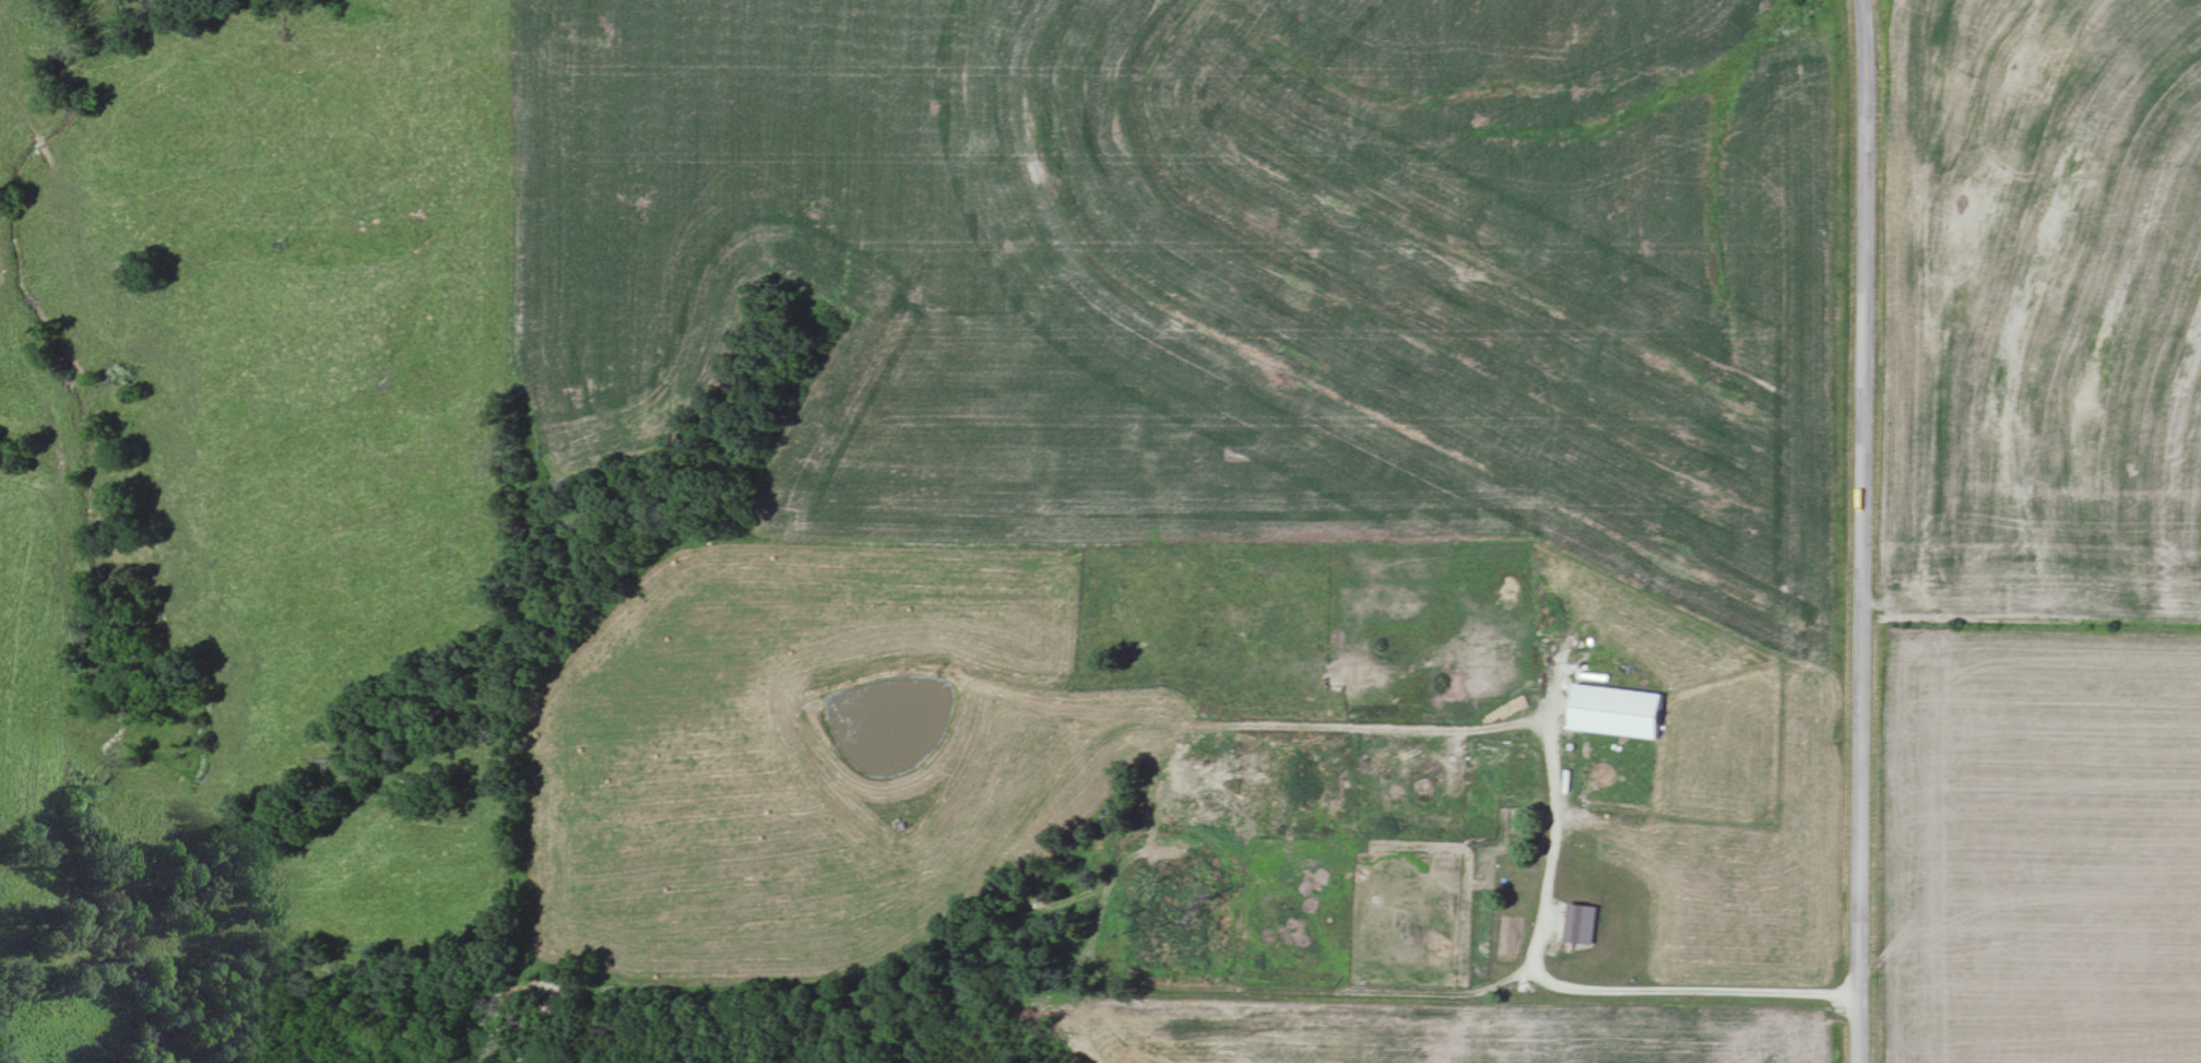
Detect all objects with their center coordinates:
road: (1871, 531)
building: (1619, 710)
building: (1583, 924)

